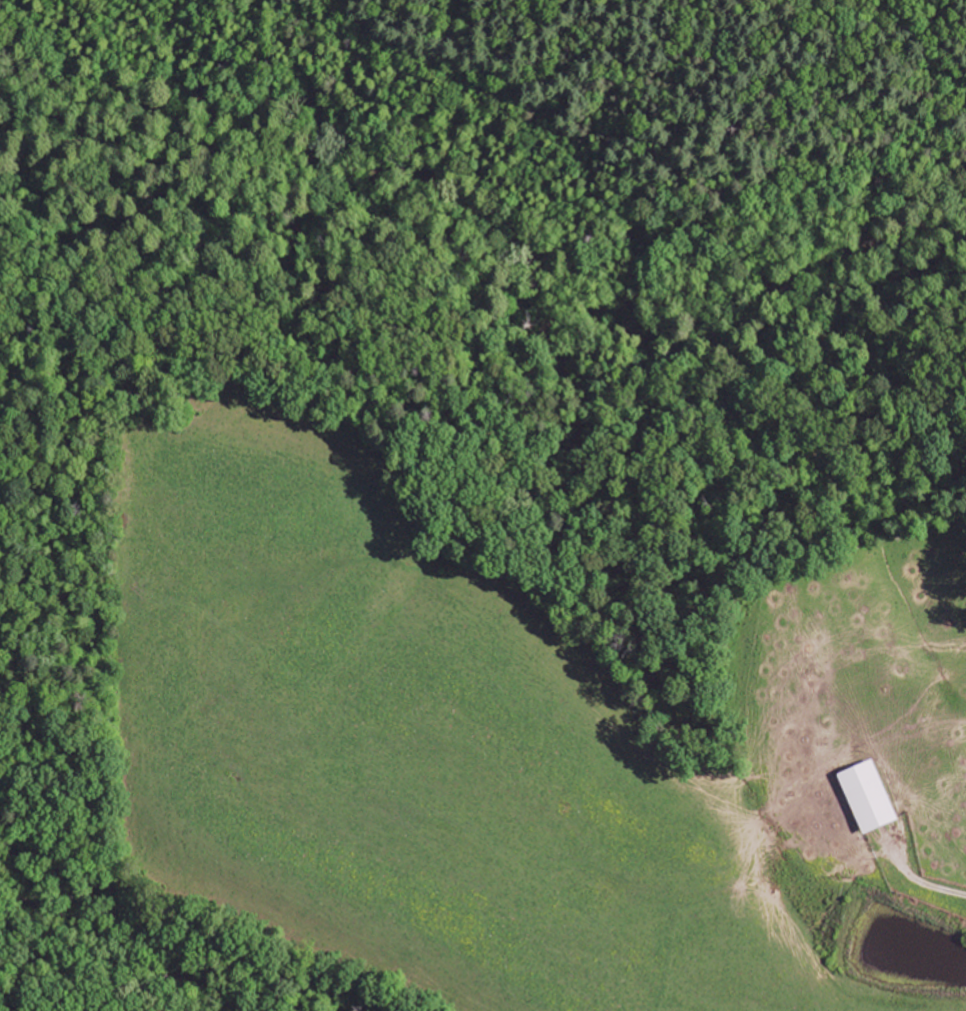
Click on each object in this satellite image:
building: (867, 797)

